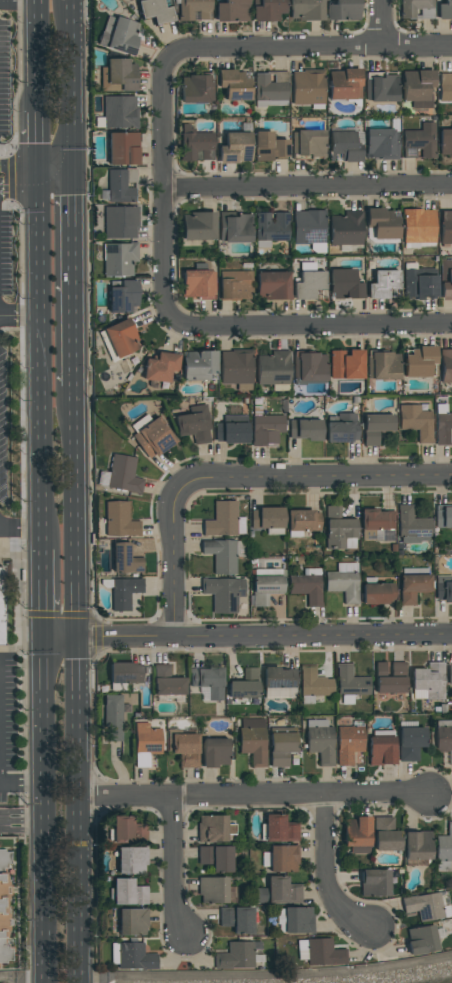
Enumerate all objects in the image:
road: (18, 1)
building: (416, 9)
building: (194, 10)
building: (267, 10)
building: (305, 10)
building: (343, 10)
building: (444, 10)
building: (154, 11)
building: (231, 11)
road: (380, 25)
building: (119, 35)
road: (37, 49)
road: (309, 51)
building: (120, 75)
building: (233, 84)
building: (343, 84)
building: (381, 86)
building: (445, 86)
building: (307, 87)
building: (417, 87)
road: (71, 88)
building: (271, 88)
building: (195, 89)
building: (119, 111)
road: (37, 137)
building: (419, 141)
building: (445, 142)
building: (307, 143)
building: (380, 144)
building: (197, 146)
building: (269, 146)
building: (235, 147)
building: (343, 147)
building: (123, 148)
road: (19, 170)
road: (55, 176)
road: (19, 184)
building: (121, 185)
road: (308, 186)
road: (165, 188)
building: (120, 222)
building: (382, 223)
building: (198, 226)
building: (272, 226)
building: (418, 226)
building: (445, 226)
building: (234, 227)
building: (308, 227)
building: (346, 229)
building: (118, 258)
building: (446, 279)
road: (72, 281)
building: (196, 283)
building: (382, 283)
building: (419, 283)
building: (308, 284)
building: (344, 284)
building: (234, 285)
building: (272, 285)
building: (122, 296)
road: (19, 319)
road: (310, 324)
building: (121, 338)
building: (419, 362)
building: (346, 364)
road: (38, 365)
building: (198, 365)
building: (383, 365)
building: (446, 365)
building: (160, 367)
building: (235, 367)
building: (309, 367)
building: (273, 368)
building: (416, 422)
building: (194, 424)
building: (376, 427)
building: (342, 428)
building: (266, 429)
building: (304, 429)
building: (443, 429)
building: (231, 430)
building: (152, 439)
building: (123, 475)
road: (317, 480)
road: (74, 513)
building: (443, 517)
building: (119, 520)
building: (224, 520)
building: (267, 520)
building: (303, 520)
building: (376, 525)
building: (411, 526)
road: (19, 527)
building: (338, 530)
building: (221, 556)
road: (174, 559)
building: (124, 560)
building: (343, 582)
building: (307, 586)
building: (264, 587)
building: (413, 588)
building: (443, 589)
building: (124, 593)
building: (378, 593)
building: (223, 594)
road: (41, 597)
building: (1, 609)
road: (263, 636)
road: (59, 641)
traffic signals: (76, 641)
traffic signals: (42, 642)
building: (449, 673)
building: (124, 675)
building: (389, 677)
building: (207, 681)
building: (166, 682)
building: (350, 682)
building: (428, 682)
building: (279, 683)
building: (314, 683)
building: (244, 685)
building: (113, 717)
building: (443, 736)
building: (253, 741)
building: (320, 741)
building: (410, 741)
building: (146, 743)
building: (348, 744)
building: (281, 748)
building: (184, 749)
building: (381, 751)
building: (215, 752)
road: (21, 781)
road: (254, 801)
road: (80, 811)
road: (42, 812)
road: (21, 824)
building: (211, 829)
building: (122, 830)
building: (279, 830)
building: (385, 835)
building: (417, 845)
building: (444, 849)
building: (216, 858)
building: (280, 859)
building: (131, 860)
road: (173, 870)
road: (330, 875)
building: (374, 883)
building: (212, 890)
building: (278, 891)
building: (128, 893)
building: (427, 906)
building: (4, 907)
building: (237, 920)
building: (294, 920)
building: (132, 922)
building: (420, 940)
building: (320, 953)
building: (238, 956)
building: (134, 957)
road: (226, 976)

